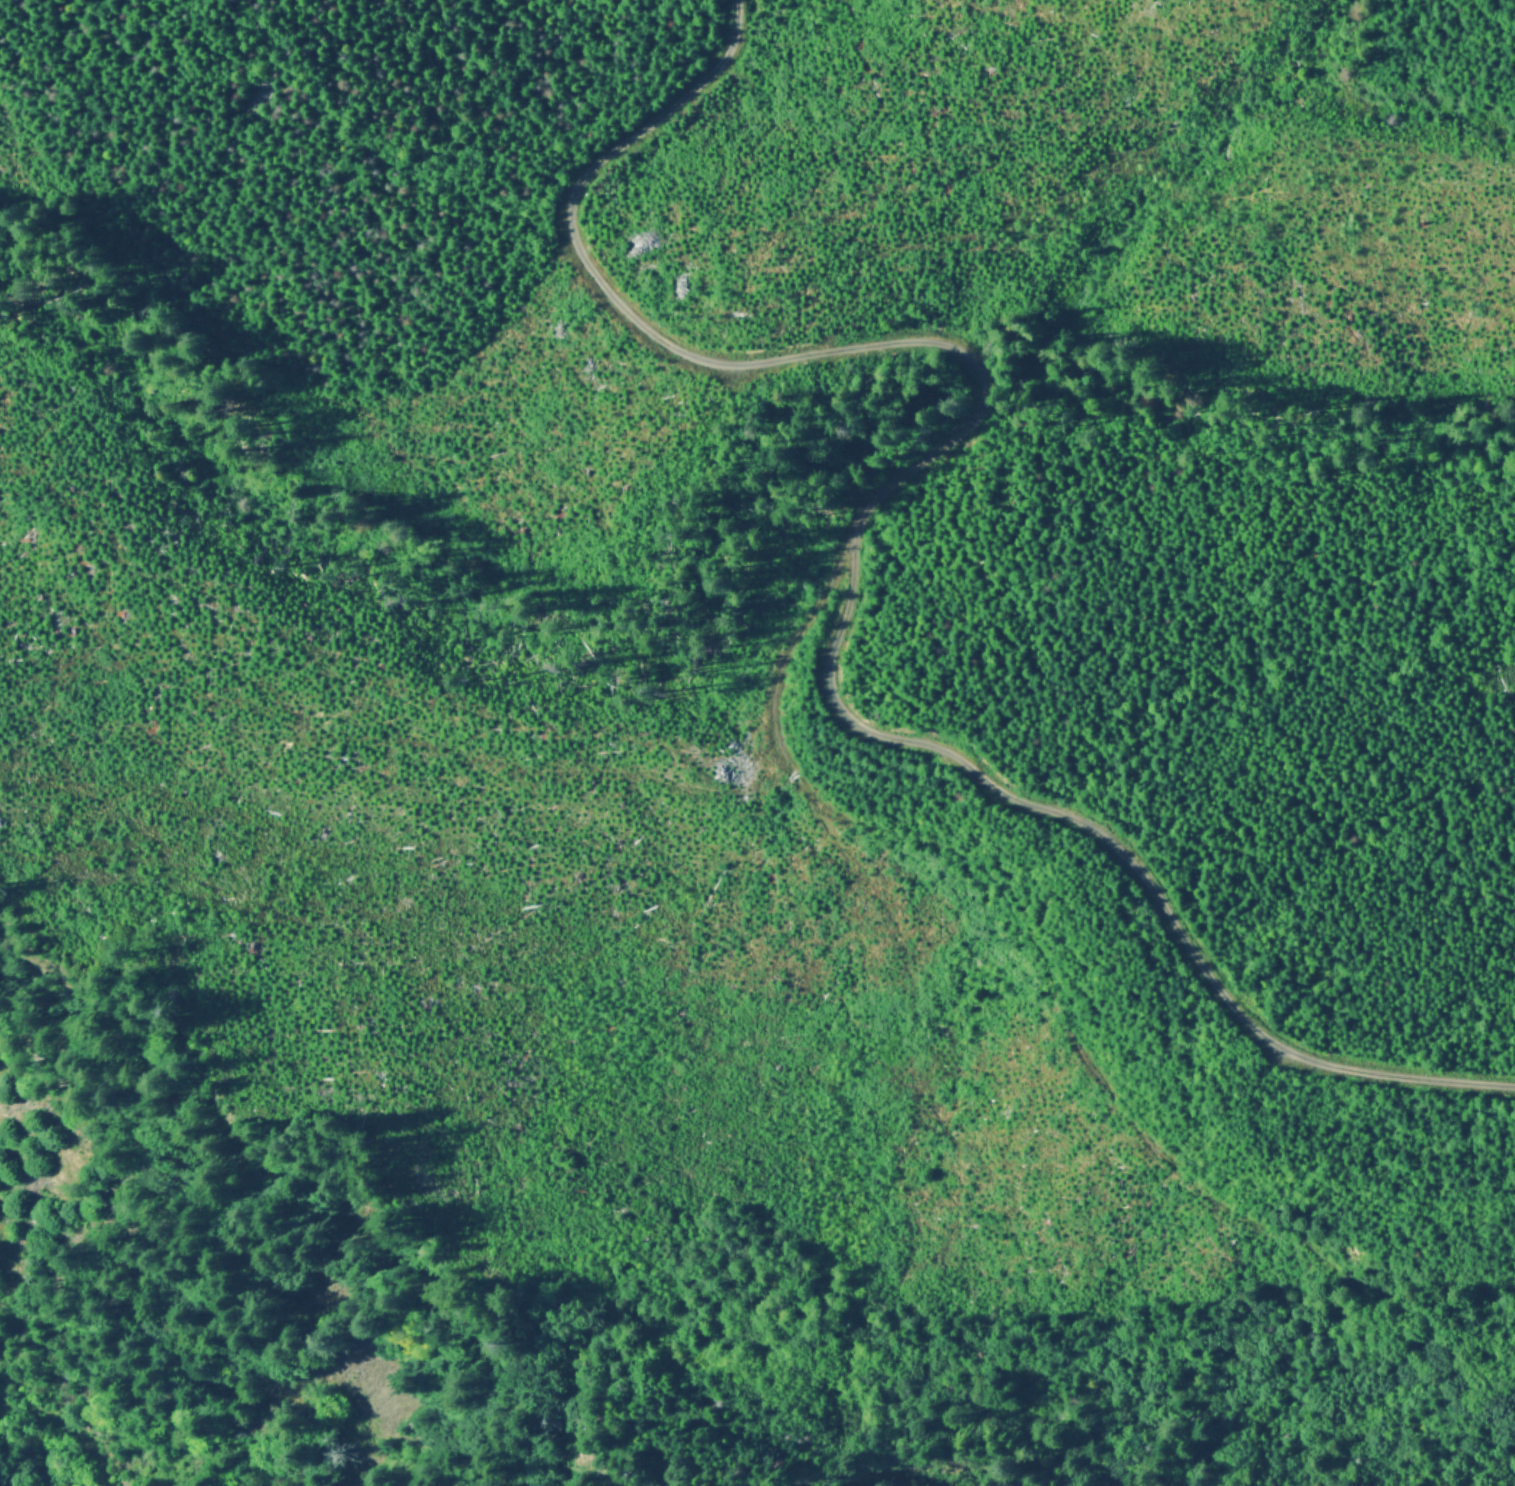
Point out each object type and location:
road: (840, 634)

